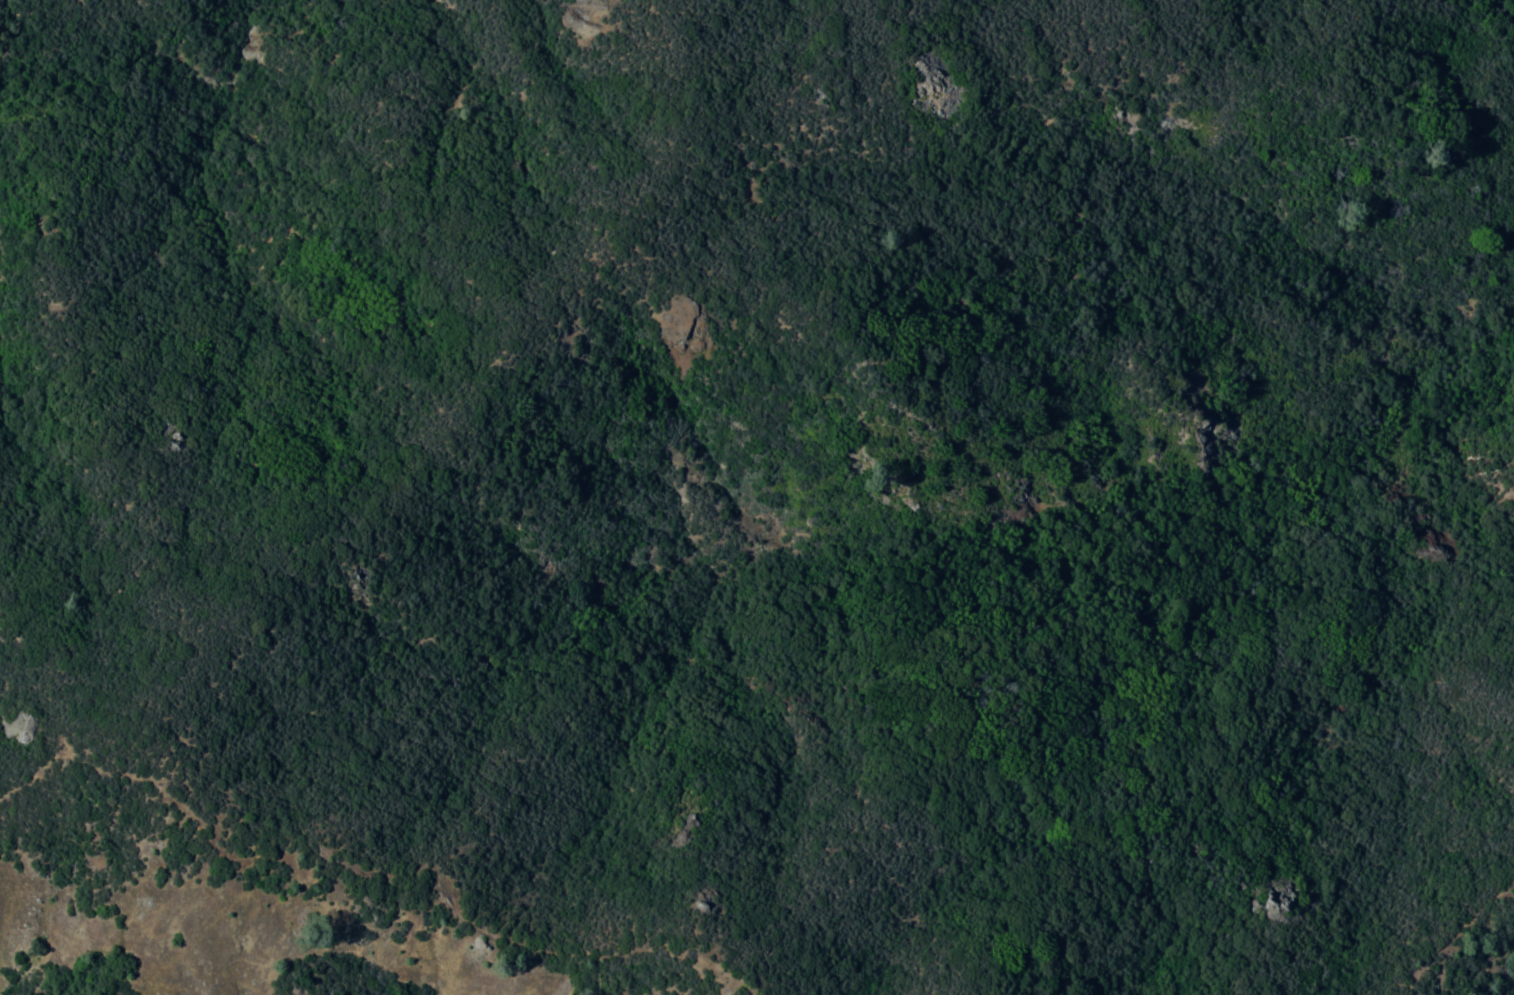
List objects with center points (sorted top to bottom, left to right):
road: (366, 878)

